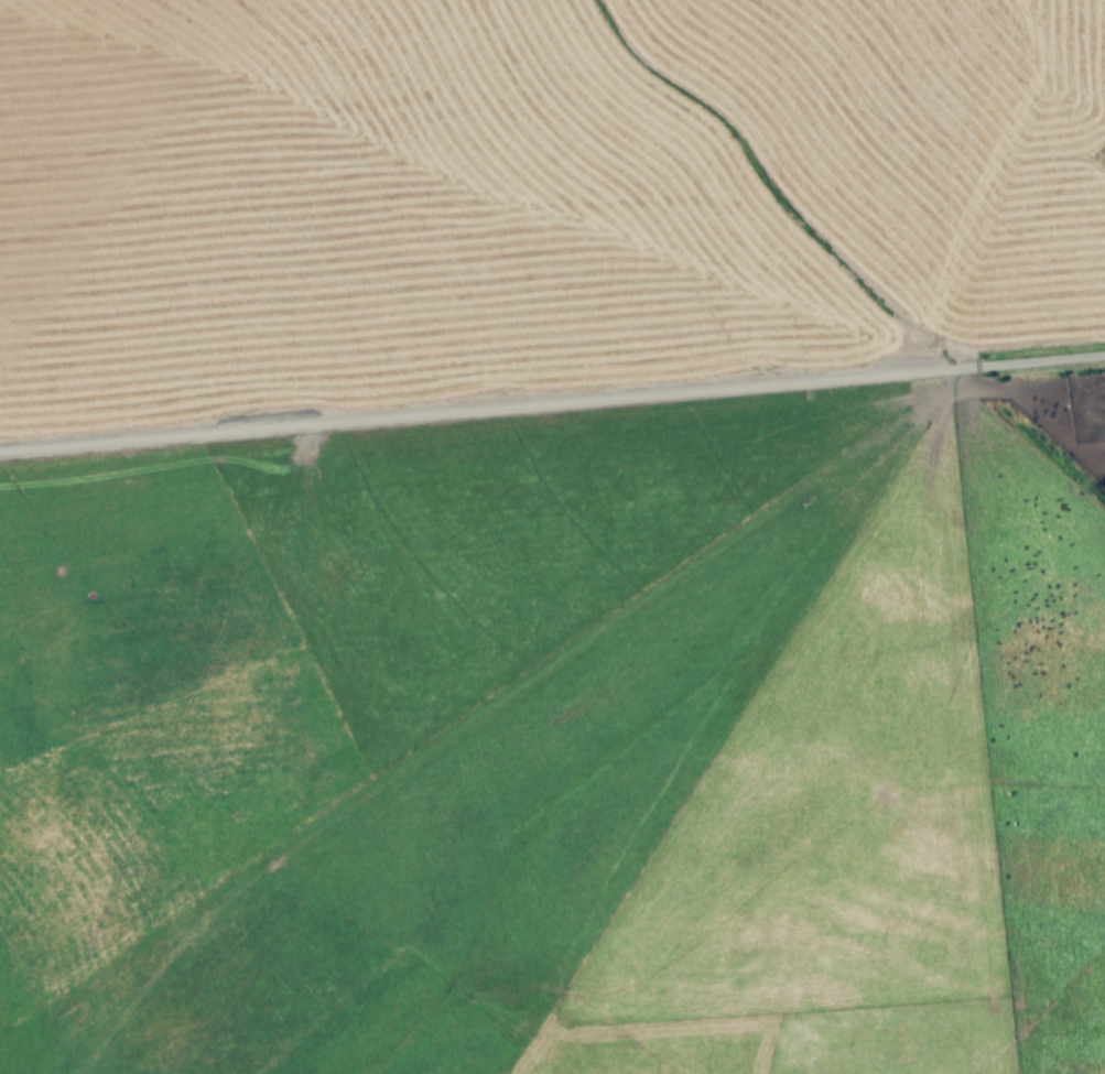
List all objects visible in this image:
road: (552, 399)
crop: (545, 539)

